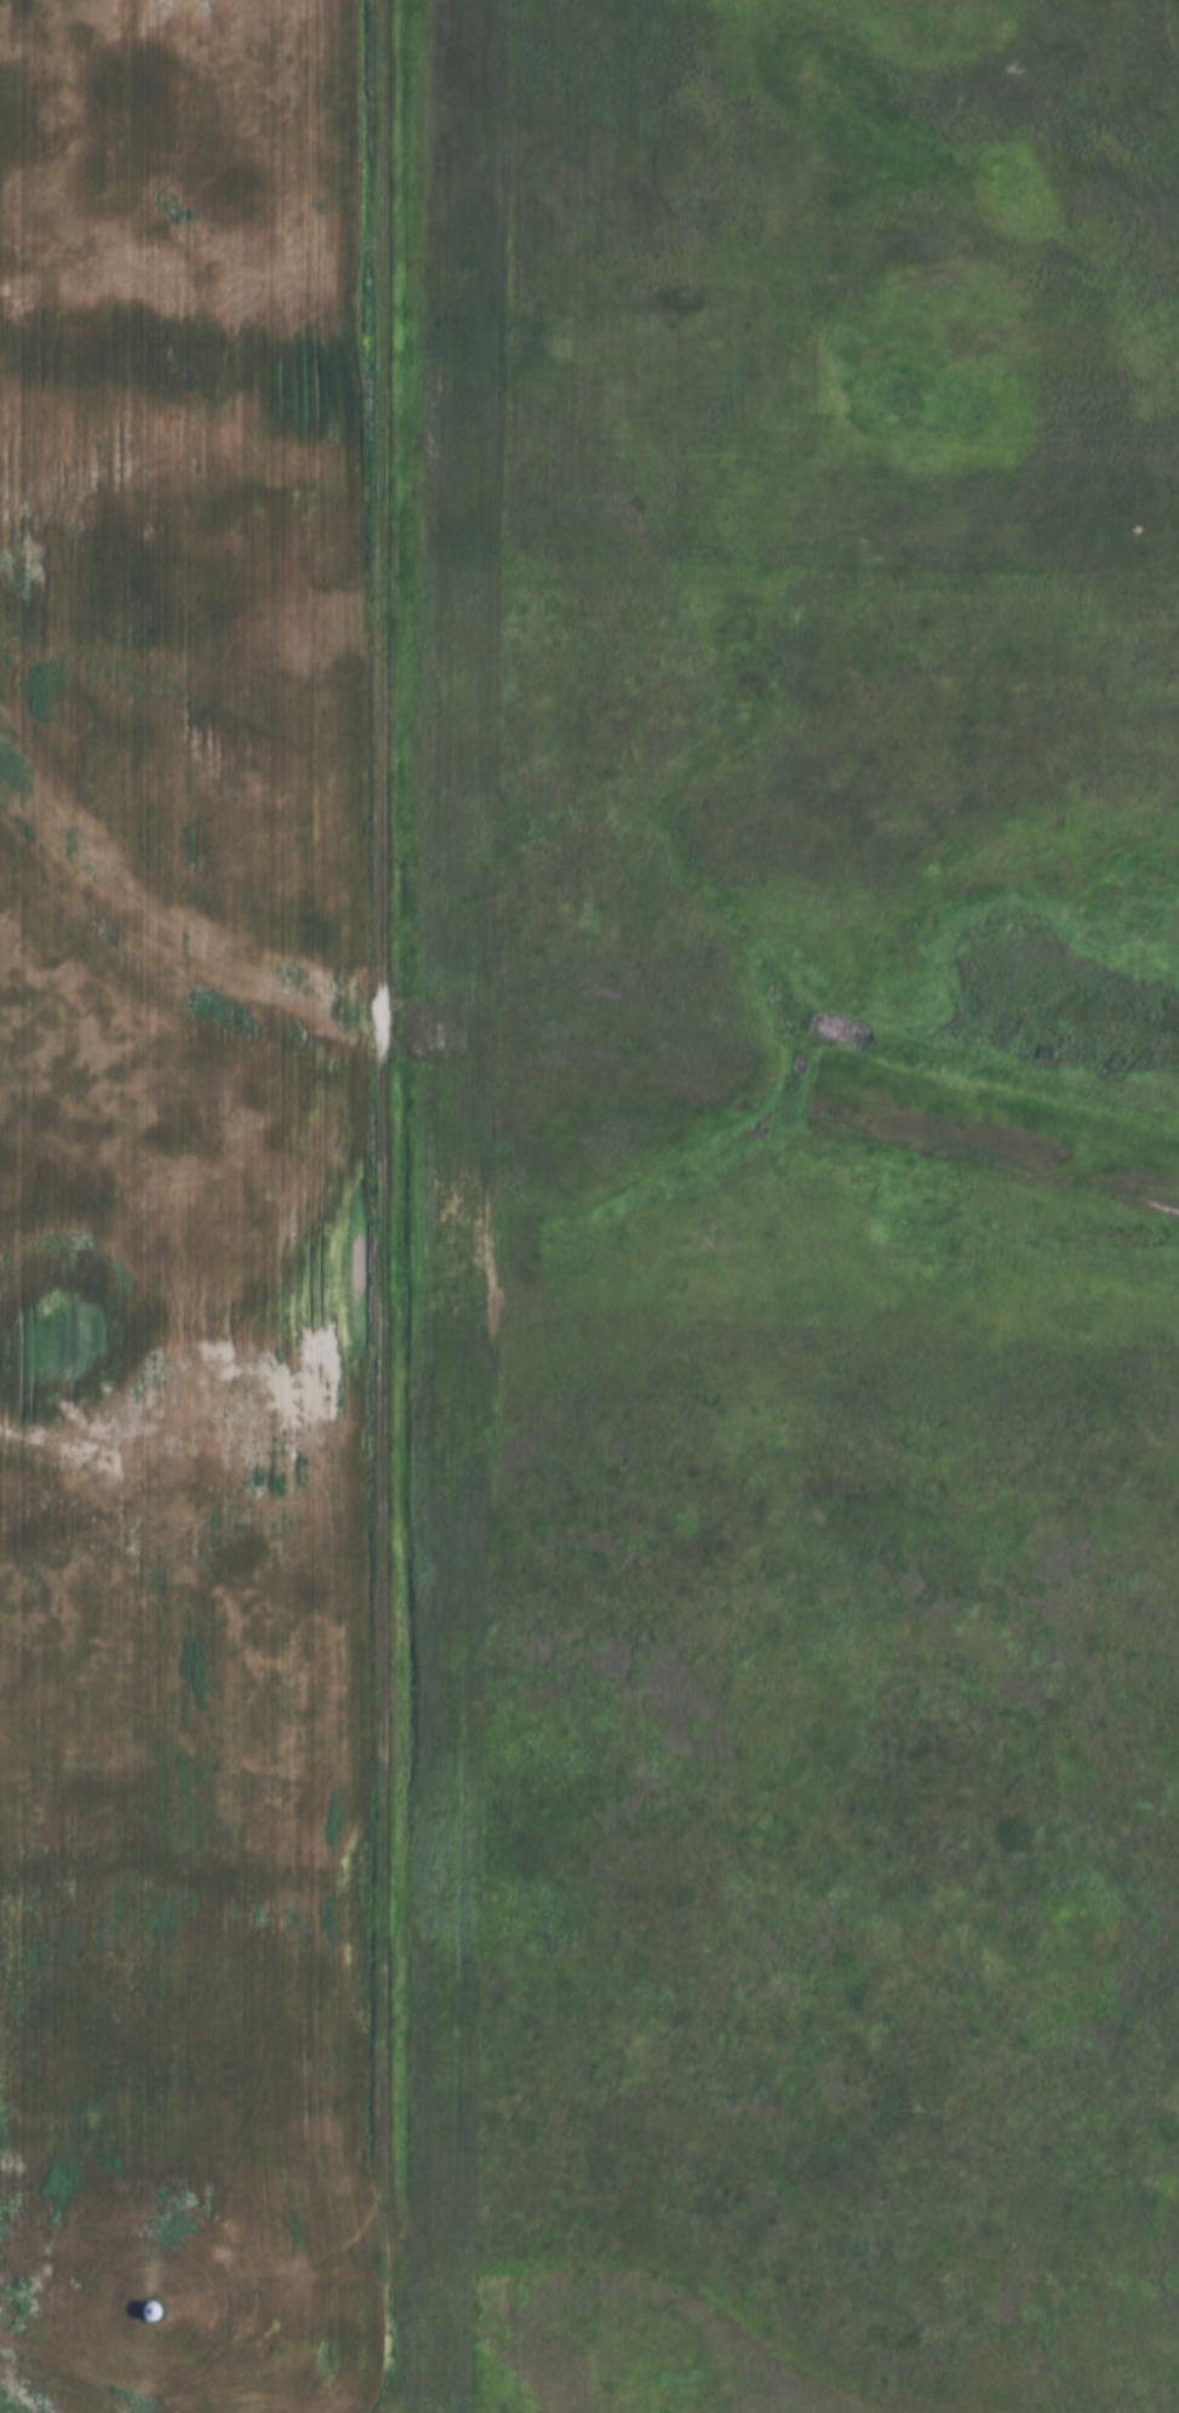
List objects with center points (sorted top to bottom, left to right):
road: (545, 1072)
building: (148, 2312)

